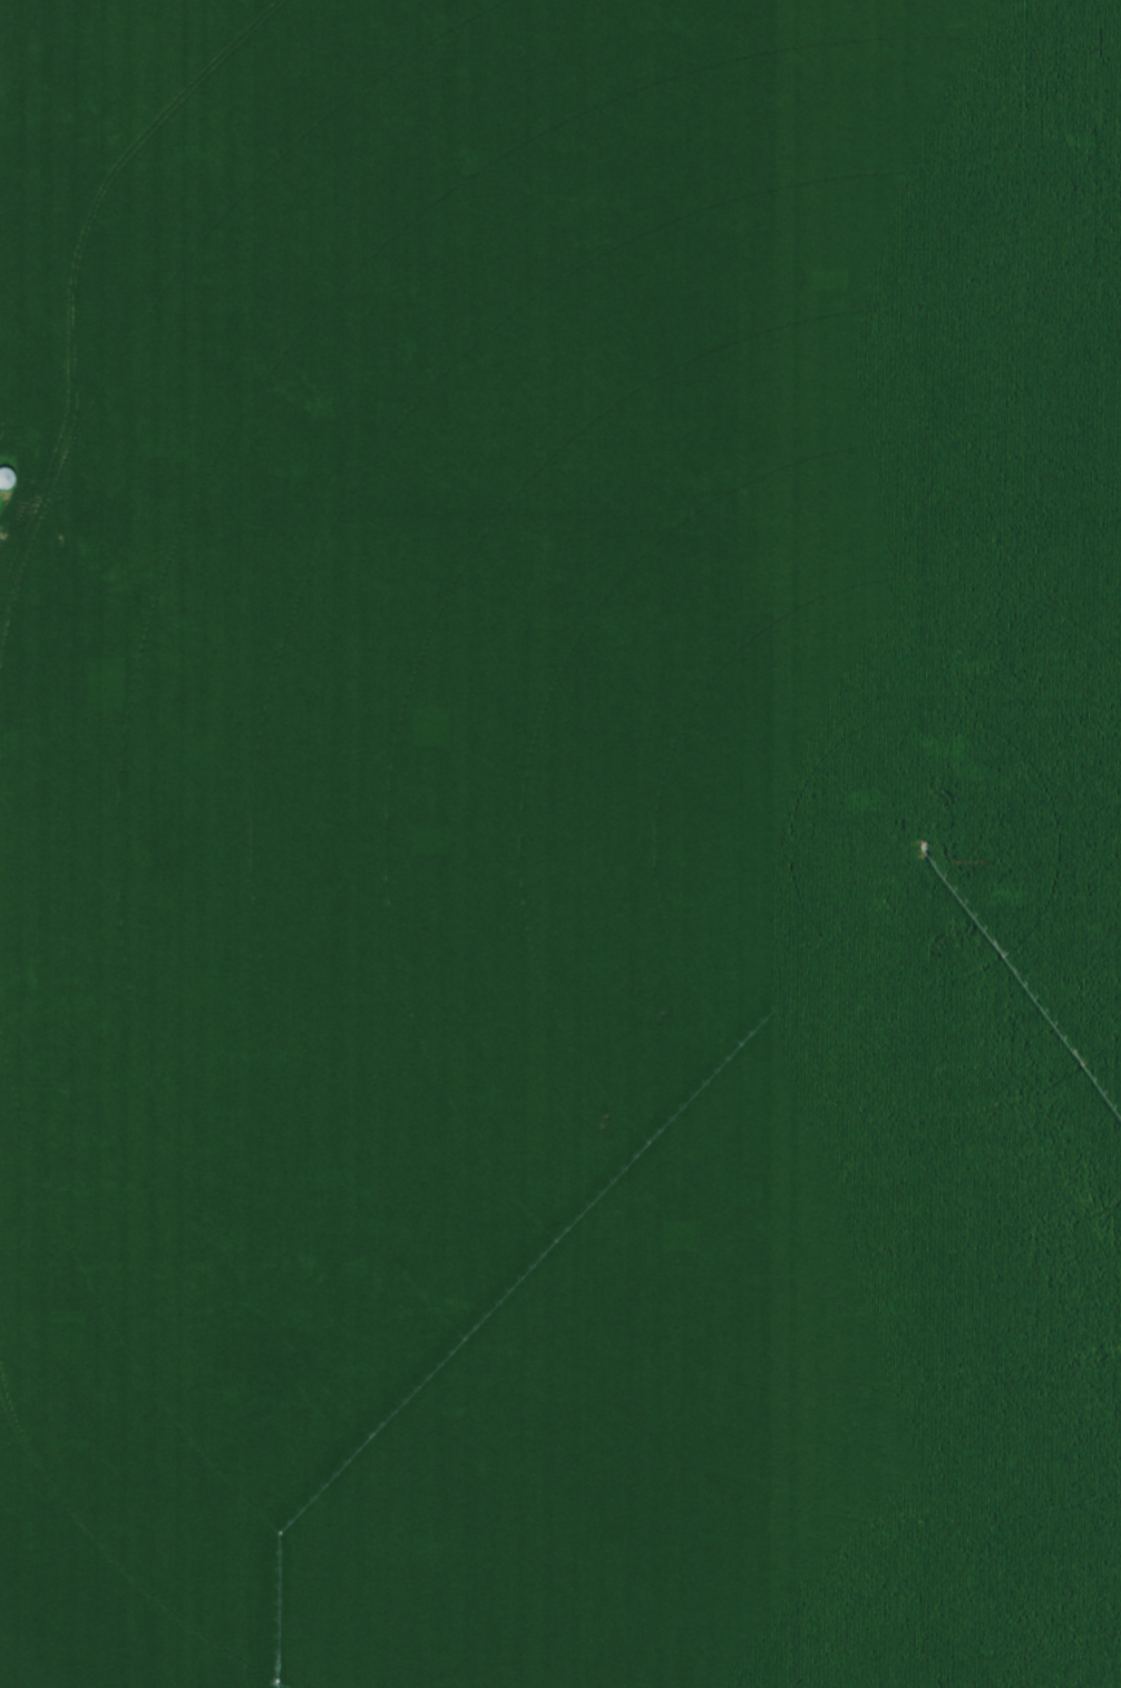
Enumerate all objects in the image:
building: (7, 479)

